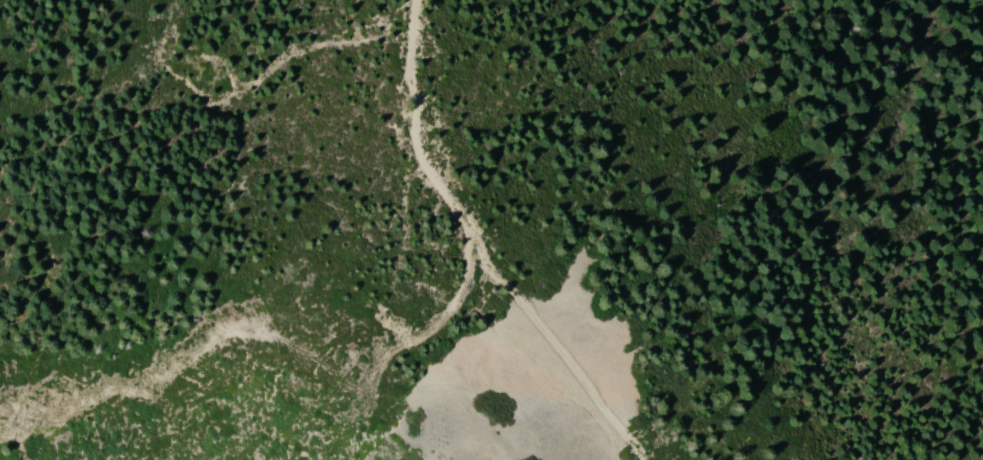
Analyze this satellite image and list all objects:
road: (962, 184)

